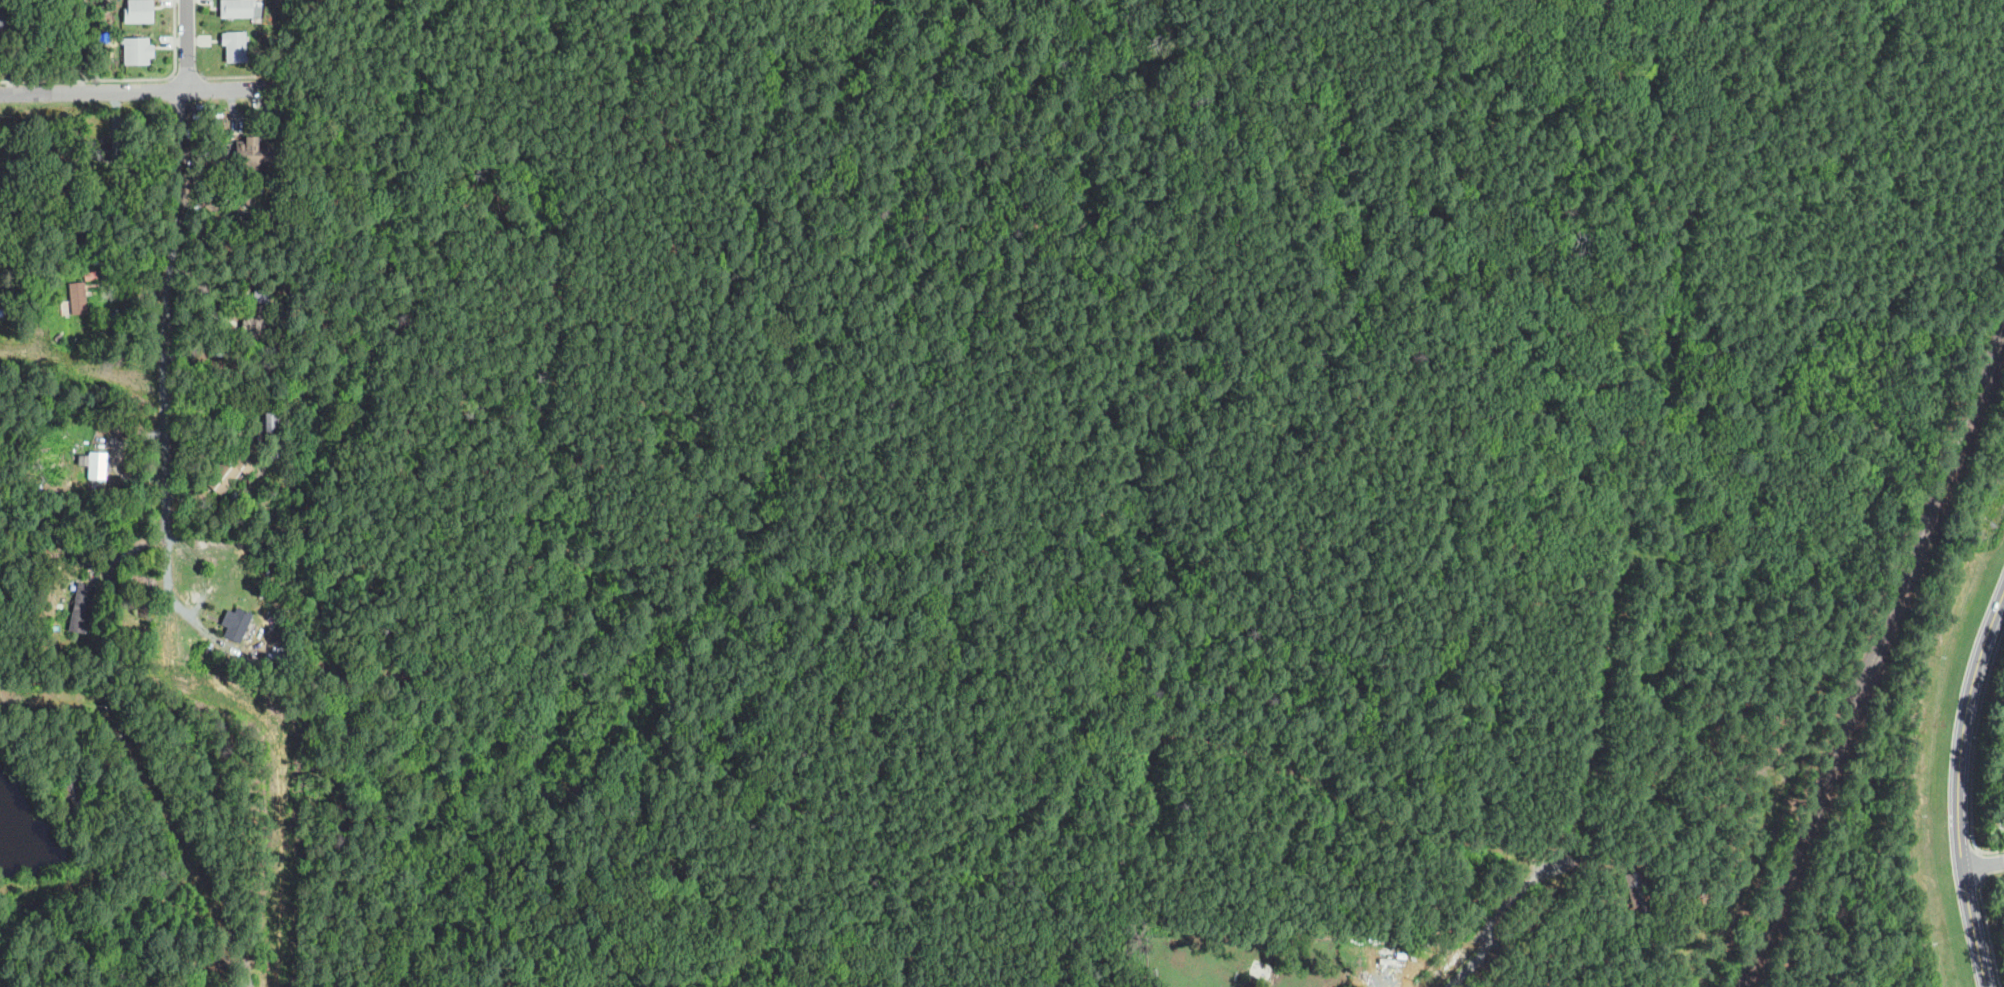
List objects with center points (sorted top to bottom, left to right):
building: (236, 7)
building: (139, 10)
building: (0, 13)
road: (189, 43)
road: (83, 44)
building: (235, 45)
building: (136, 49)
road: (383, 77)
road: (133, 88)
road: (1013, 100)
road: (1998, 112)
building: (97, 150)
building: (209, 154)
building: (254, 155)
building: (246, 174)
building: (233, 180)
building: (275, 189)
road: (1735, 192)
building: (246, 194)
building: (0, 207)
building: (78, 298)
building: (1, 312)
road: (748, 323)
building: (255, 325)
road: (167, 361)
building: (269, 429)
building: (284, 437)
building: (284, 445)
building: (280, 455)
road: (1638, 455)
building: (97, 465)
building: (231, 471)
building: (245, 511)
road: (1123, 580)
building: (82, 608)
building: (238, 624)
building: (263, 647)
street lamp: (2001, 648)
building: (254, 653)
railway: (1874, 657)
building: (276, 659)
road: (1900, 725)
road: (1274, 734)
street lamp: (1980, 735)
road: (1974, 750)
road: (1284, 775)
road: (1958, 786)
building: (70, 797)
street lamp: (1976, 832)
road: (1980, 864)
road: (1983, 864)
street lamp: (1990, 877)
building: (1639, 898)
road: (1504, 912)
street lamp: (1992, 920)
road: (1989, 933)
building: (1399, 955)
road: (1458, 958)
road: (1472, 961)

